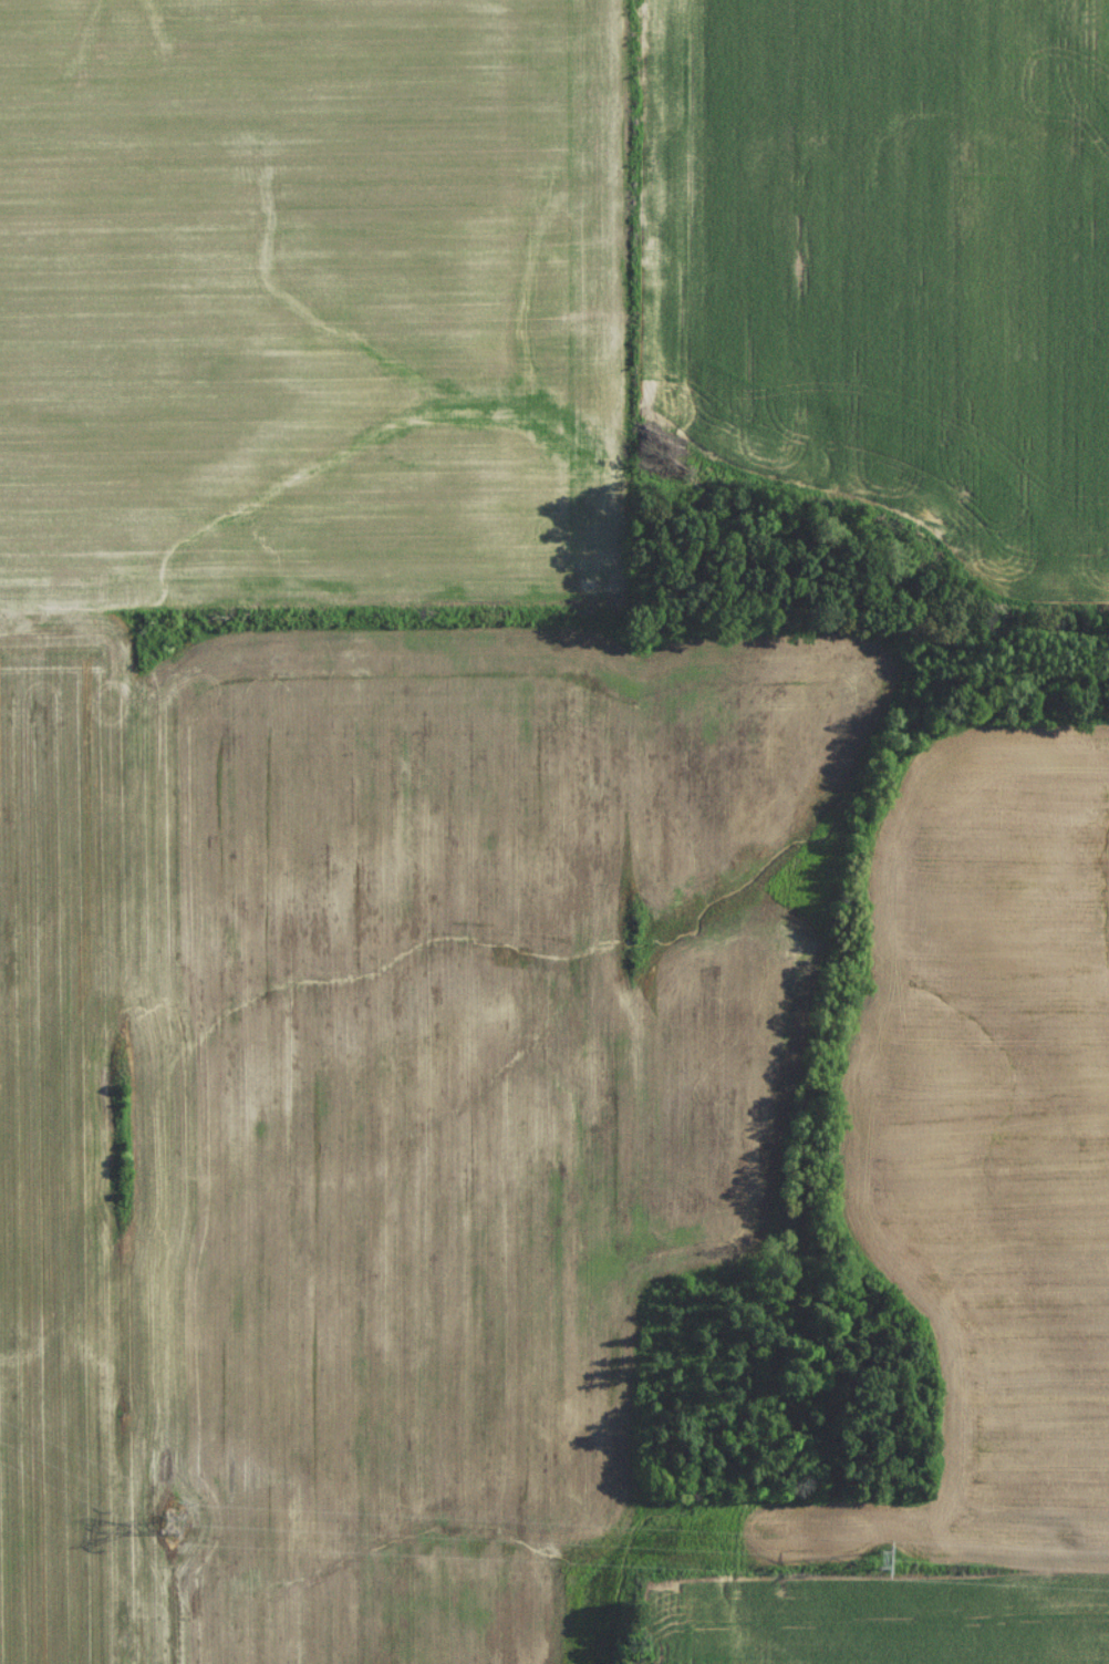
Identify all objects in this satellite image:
power tower: (168, 1529)
power tower: (871, 1563)

